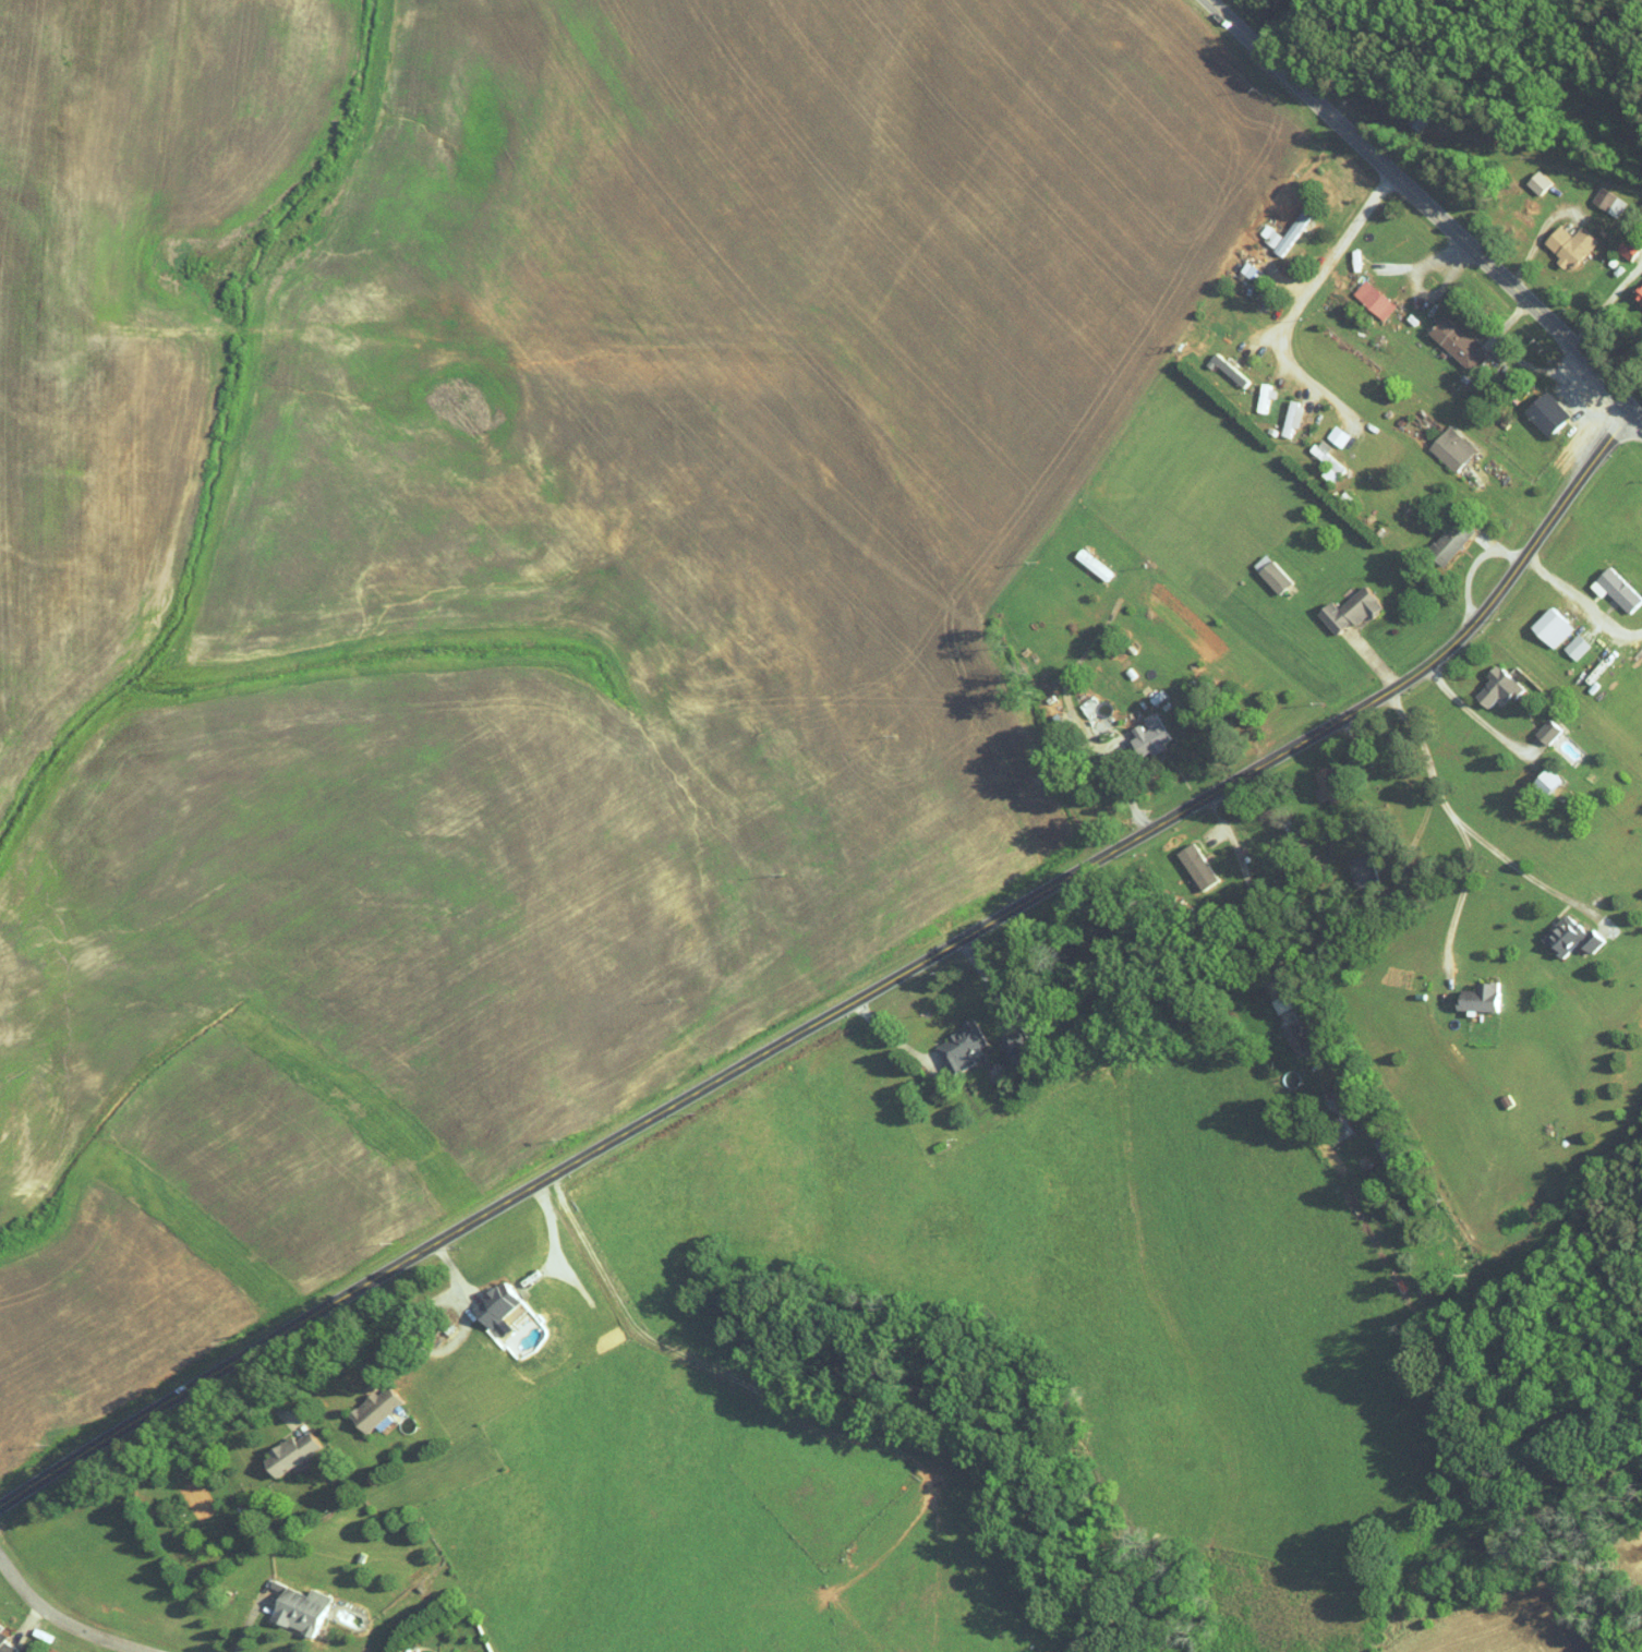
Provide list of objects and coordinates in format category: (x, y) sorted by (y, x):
building: (1536, 182)
building: (1607, 202)
road: (1429, 206)
building: (1285, 233)
building: (1568, 246)
building: (1246, 269)
building: (1372, 300)
road: (1303, 304)
road: (1606, 304)
building: (1456, 343)
building: (1228, 370)
building: (1264, 397)
building: (1545, 414)
building: (1450, 449)
building: (1325, 461)
building: (1450, 539)
building: (1270, 572)
building: (1615, 589)
road: (1580, 602)
building: (1348, 610)
building: (1550, 626)
building: (1575, 647)
building: (1497, 686)
road: (1469, 712)
building: (1546, 731)
building: (1147, 735)
road: (1100, 753)
building: (1545, 781)
building: (1325, 782)
road: (1461, 822)
building: (1195, 866)
building: (1362, 870)
road: (1460, 901)
road: (1256, 904)
building: (1568, 937)
building: (1478, 997)
road: (853, 999)
road: (893, 1037)
building: (1295, 1038)
building: (958, 1047)
building: (1015, 1047)
building: (1332, 1119)
building: (494, 1304)
building: (374, 1410)
building: (289, 1454)
building: (299, 1611)
road: (62, 1620)
building: (3, 1643)

